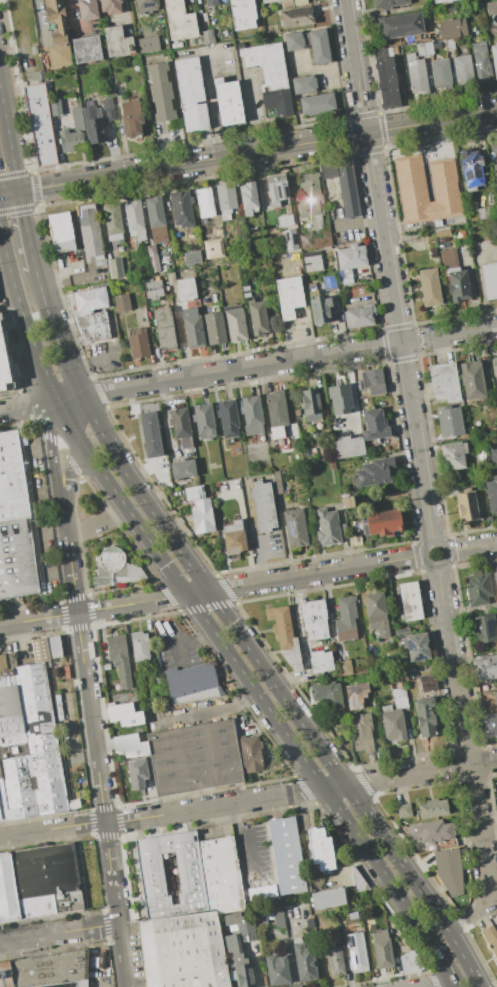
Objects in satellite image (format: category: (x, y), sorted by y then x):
building: (269, 1)
building: (441, 1)
building: (211, 2)
building: (299, 2)
building: (388, 4)
building: (146, 5)
building: (109, 6)
building: (491, 8)
building: (88, 10)
building: (242, 14)
building: (294, 15)
building: (179, 20)
building: (401, 26)
building: (451, 28)
building: (57, 33)
building: (207, 37)
building: (496, 37)
building: (26, 39)
building: (293, 41)
building: (117, 42)
building: (148, 45)
building: (450, 45)
building: (319, 46)
building: (87, 49)
building: (420, 49)
road: (352, 50)
building: (494, 58)
building: (481, 61)
building: (267, 64)
building: (463, 71)
road: (324, 73)
building: (415, 73)
building: (440, 74)
building: (386, 82)
building: (303, 84)
building: (160, 91)
building: (191, 94)
building: (92, 97)
building: (228, 101)
building: (277, 101)
building: (317, 103)
road: (209, 104)
building: (55, 108)
building: (108, 108)
road: (368, 115)
road: (248, 116)
road: (357, 117)
building: (131, 118)
building: (77, 120)
building: (41, 123)
building: (93, 125)
road: (446, 137)
building: (70, 140)
road: (9, 142)
building: (496, 149)
road: (167, 150)
road: (248, 152)
building: (328, 169)
building: (471, 169)
building: (275, 178)
building: (411, 181)
building: (347, 187)
traffic signals: (19, 192)
building: (279, 195)
building: (248, 197)
building: (263, 199)
building: (309, 199)
building: (225, 200)
building: (204, 202)
building: (181, 208)
building: (481, 213)
building: (155, 217)
building: (135, 219)
building: (270, 221)
building: (286, 221)
building: (113, 223)
road: (357, 224)
park: (483, 228)
building: (239, 229)
building: (253, 229)
parking lot: (339, 229)
road: (26, 231)
building: (442, 231)
building: (62, 232)
building: (89, 233)
building: (322, 237)
building: (290, 239)
building: (305, 240)
building: (333, 240)
road: (5, 248)
building: (118, 248)
building: (432, 253)
building: (200, 256)
building: (447, 257)
building: (153, 258)
building: (191, 258)
building: (312, 261)
building: (349, 261)
building: (243, 266)
building: (116, 268)
road: (67, 280)
building: (489, 280)
building: (288, 283)
building: (330, 283)
building: (457, 284)
road: (479, 286)
building: (429, 288)
building: (312, 289)
building: (185, 290)
building: (157, 291)
building: (89, 300)
building: (122, 302)
building: (321, 310)
building: (259, 316)
building: (359, 316)
road: (25, 319)
building: (235, 323)
building: (92, 326)
building: (165, 328)
building: (193, 328)
building: (214, 328)
road: (459, 332)
road: (399, 338)
road: (411, 340)
building: (139, 343)
building: (112, 351)
building: (173, 355)
building: (4, 364)
building: (496, 364)
road: (241, 369)
building: (472, 380)
building: (373, 381)
building: (444, 382)
road: (50, 383)
road: (69, 398)
building: (339, 399)
building: (311, 404)
road: (28, 407)
building: (297, 412)
road: (80, 416)
building: (252, 417)
building: (277, 417)
building: (227, 418)
building: (203, 420)
building: (449, 421)
building: (374, 425)
building: (180, 426)
building: (150, 435)
building: (348, 446)
building: (380, 446)
road: (50, 455)
building: (453, 456)
building: (493, 457)
building: (182, 468)
building: (375, 472)
road: (70, 474)
building: (11, 478)
building: (276, 482)
building: (194, 493)
building: (492, 494)
building: (347, 502)
building: (263, 506)
building: (467, 506)
building: (201, 516)
road: (96, 521)
building: (383, 523)
building: (329, 527)
building: (295, 528)
road: (251, 531)
building: (234, 537)
road: (171, 538)
building: (355, 540)
road: (471, 547)
road: (444, 548)
building: (17, 559)
road: (70, 562)
building: (116, 567)
road: (316, 573)
building: (496, 579)
building: (480, 591)
road: (197, 592)
road: (187, 596)
building: (409, 600)
road: (93, 610)
building: (376, 613)
road: (444, 613)
building: (346, 618)
building: (314, 619)
building: (483, 628)
building: (285, 636)
building: (139, 646)
building: (53, 647)
building: (416, 647)
building: (40, 649)
building: (119, 659)
building: (321, 661)
building: (106, 666)
building: (486, 667)
building: (344, 668)
building: (66, 671)
building: (191, 682)
building: (428, 685)
building: (327, 694)
building: (494, 697)
building: (369, 699)
building: (123, 714)
building: (395, 716)
building: (425, 716)
building: (490, 724)
building: (361, 731)
building: (27, 743)
building: (250, 753)
building: (194, 757)
road: (483, 762)
road: (470, 770)
building: (137, 773)
road: (408, 775)
road: (335, 787)
building: (496, 793)
building: (399, 798)
road: (101, 799)
building: (433, 808)
building: (404, 811)
road: (162, 814)
building: (431, 834)
road: (247, 841)
building: (320, 849)
building: (286, 856)
road: (377, 865)
building: (449, 872)
building: (186, 874)
building: (39, 882)
road: (415, 884)
building: (262, 893)
building: (327, 898)
road: (478, 911)
building: (278, 917)
building: (261, 918)
building: (241, 925)
building: (487, 930)
road: (58, 933)
building: (493, 948)
building: (382, 949)
building: (183, 951)
building: (356, 952)
building: (335, 960)
building: (303, 961)
building: (238, 963)
building: (409, 963)
road: (438, 965)
building: (46, 970)
building: (276, 970)
road: (442, 986)

